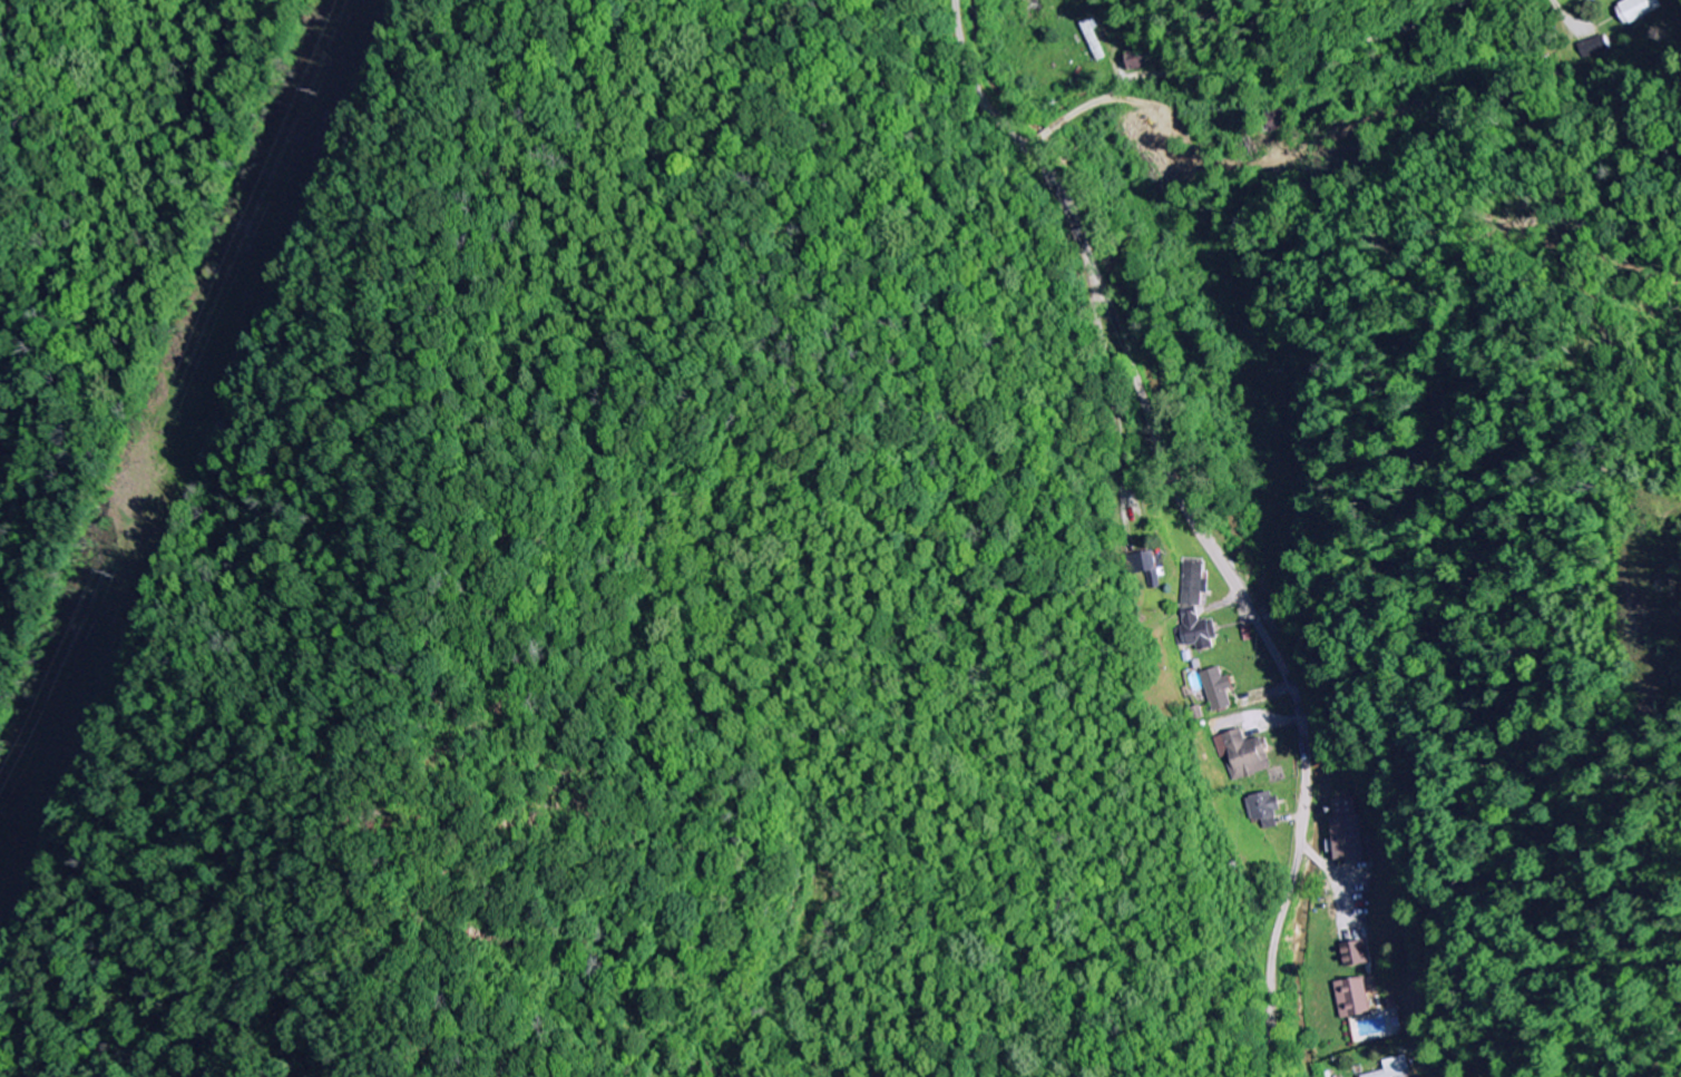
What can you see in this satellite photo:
building: (1638, 10)
building: (1137, 61)
road: (1194, 525)
building: (1149, 571)
building: (1194, 586)
building: (1196, 633)
building: (1219, 691)
building: (1244, 755)
building: (1265, 810)
building: (1349, 831)
building: (1357, 956)
building: (1356, 999)
building: (1397, 1068)

